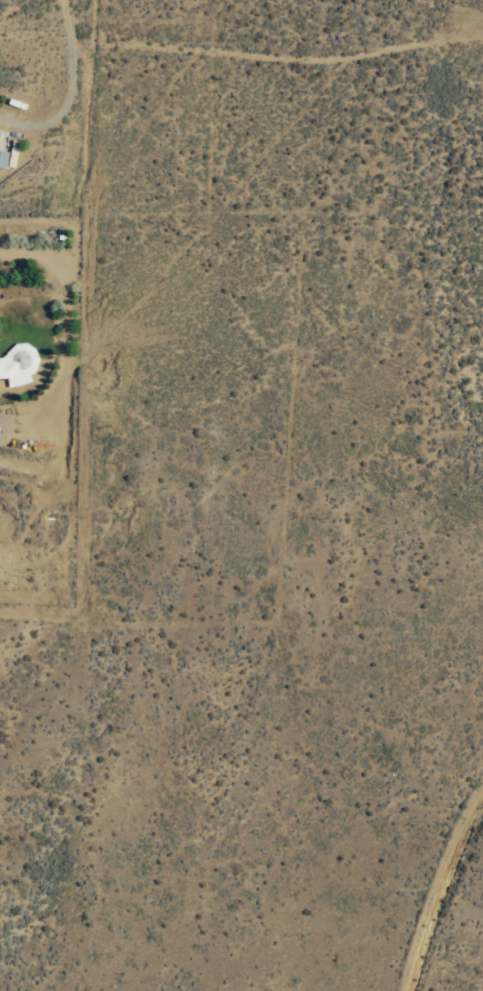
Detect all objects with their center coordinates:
road: (242, 50)
building: (2, 158)
building: (18, 363)

